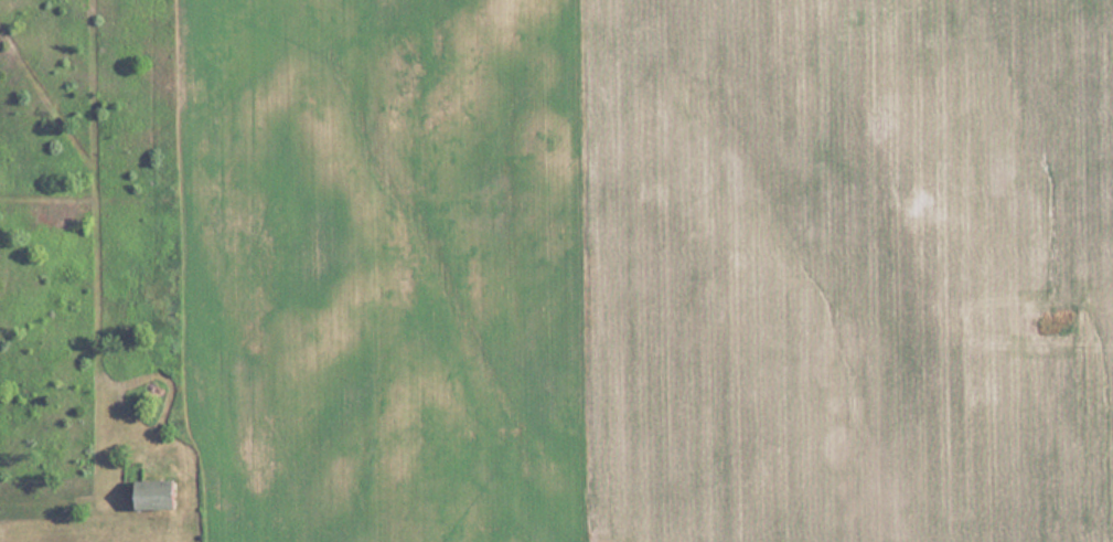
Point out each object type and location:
building: (154, 493)

